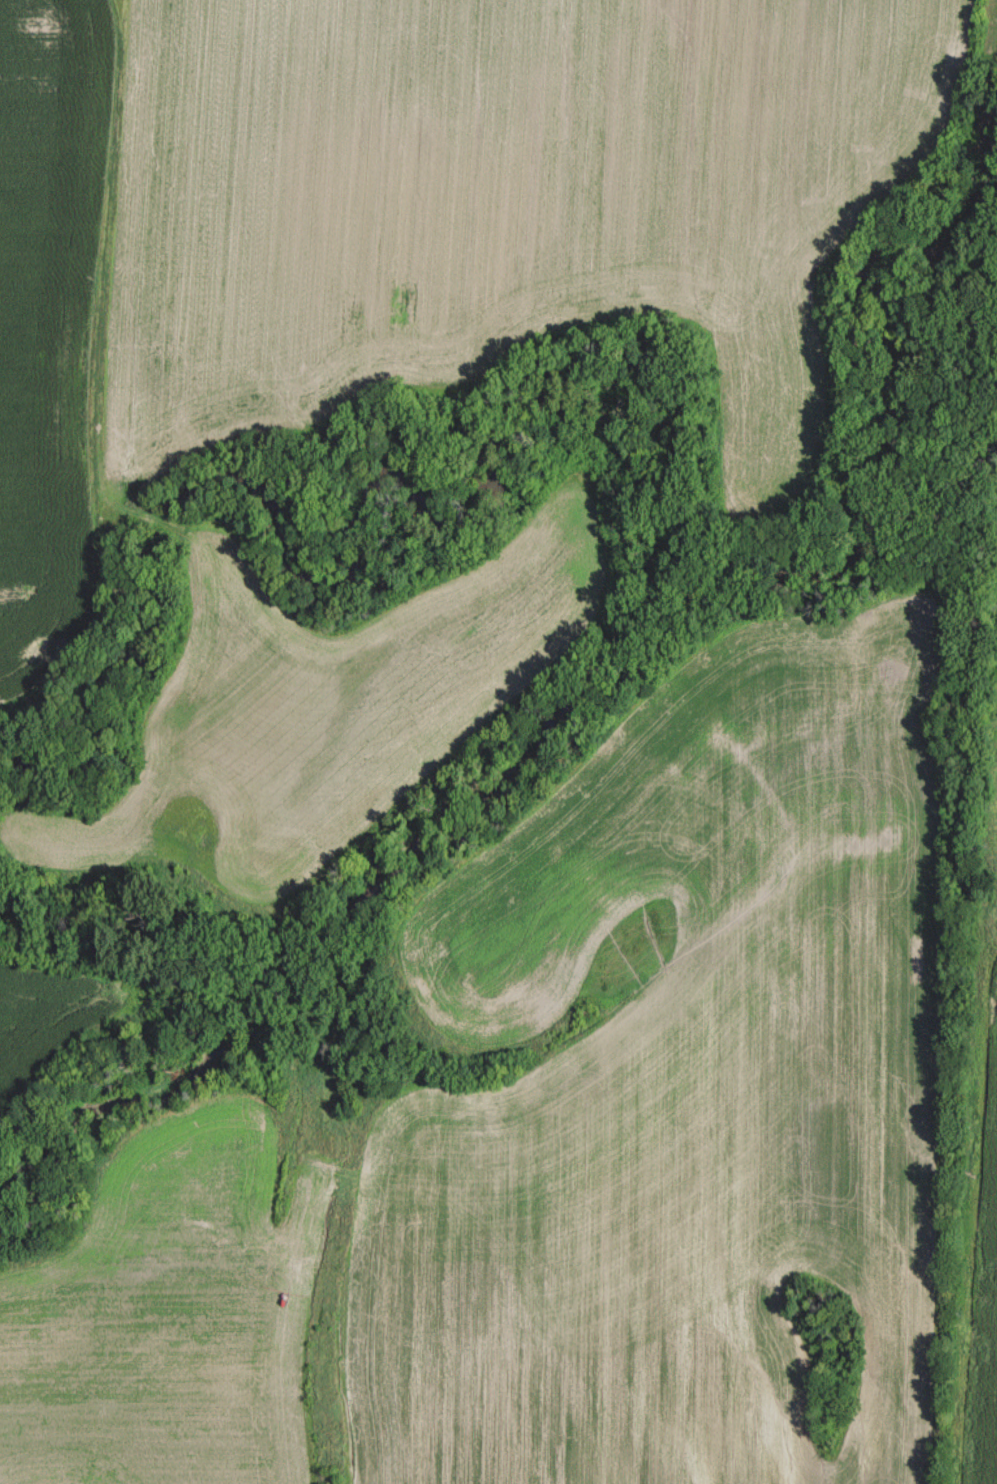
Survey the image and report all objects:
road: (98, 263)

